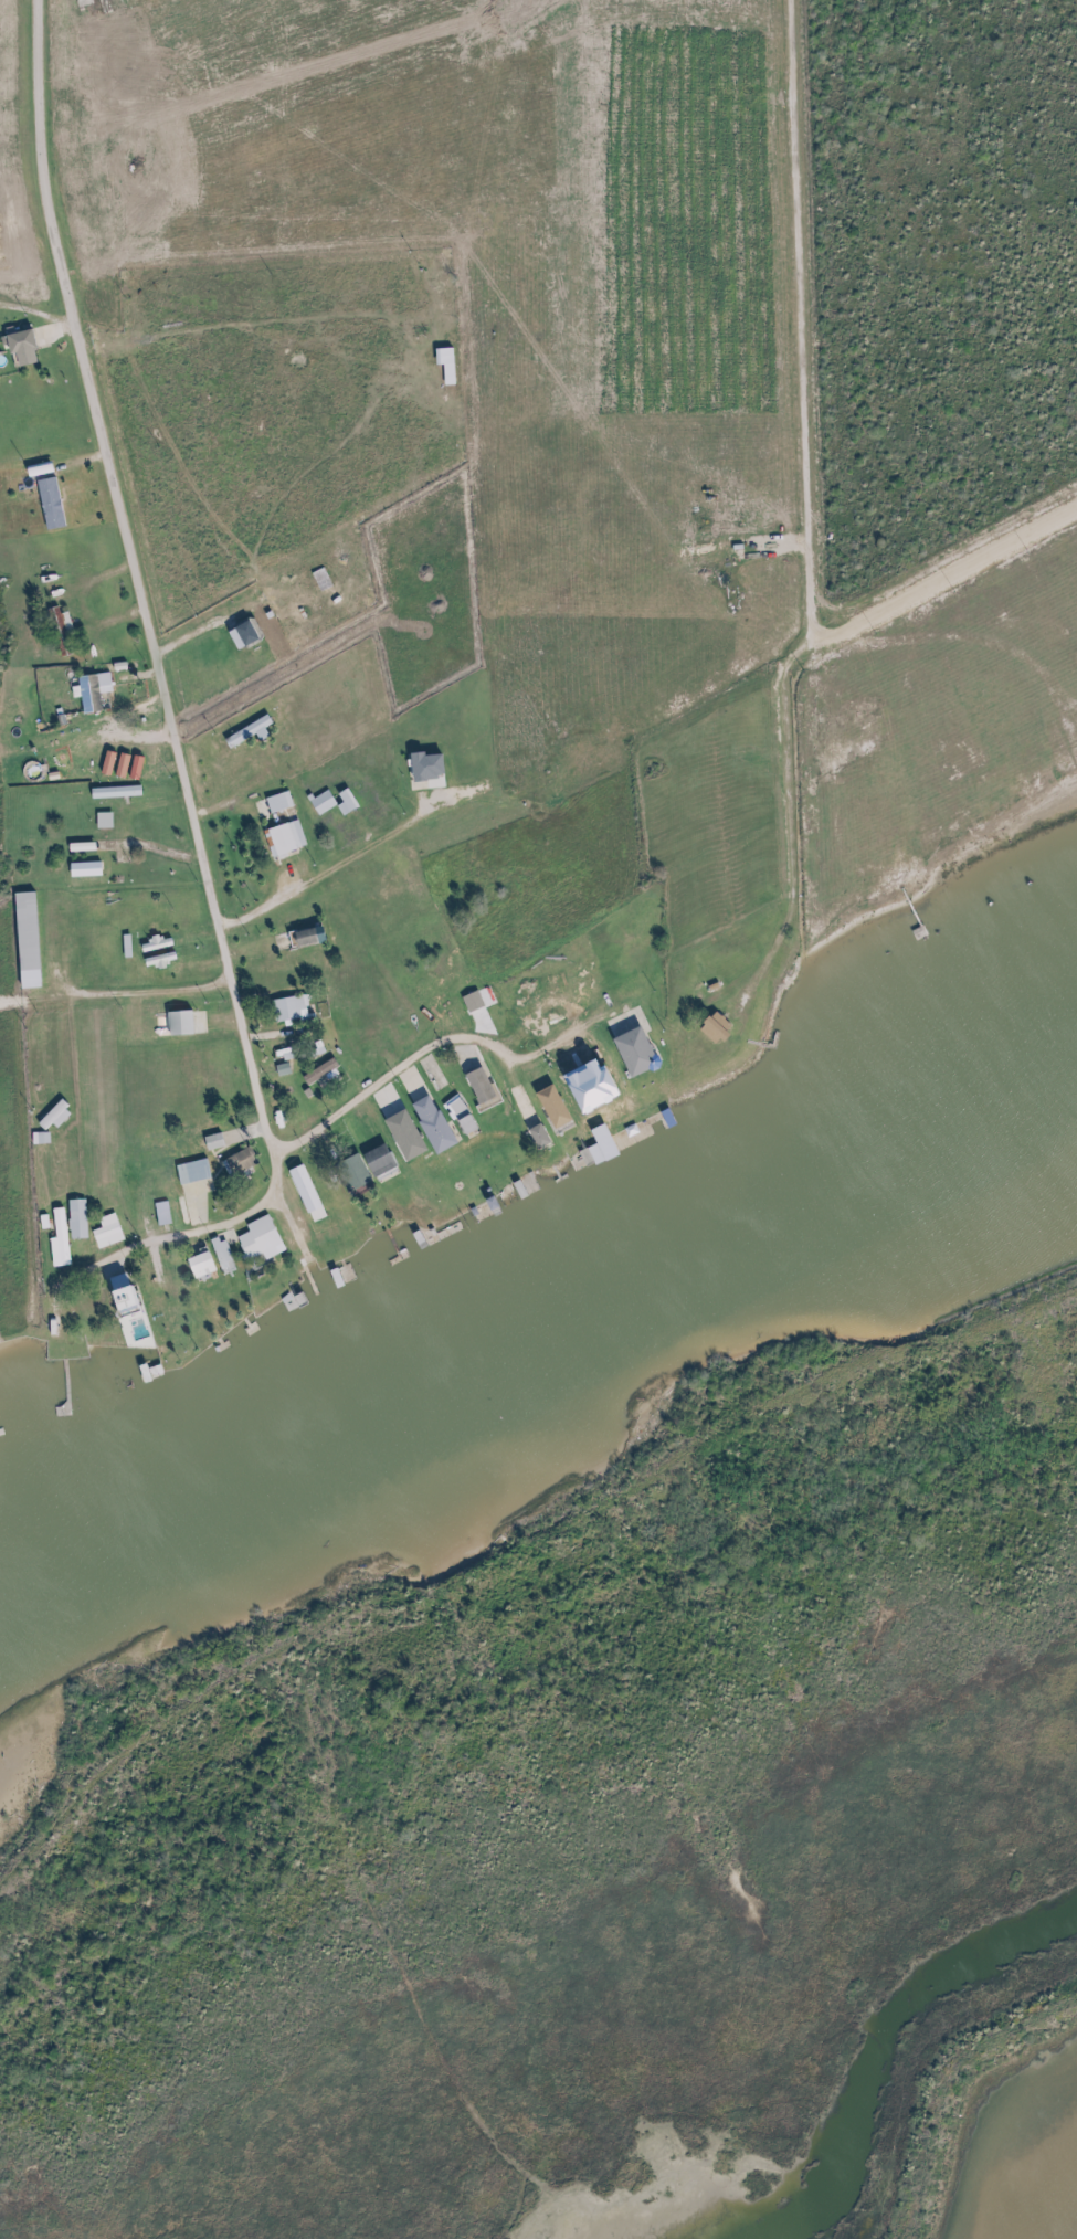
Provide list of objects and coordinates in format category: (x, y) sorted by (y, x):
building: (18, 341)
building: (445, 363)
road: (804, 513)
road: (140, 617)
building: (60, 630)
building: (244, 634)
road: (949, 642)
building: (91, 691)
building: (247, 732)
building: (106, 748)
building: (415, 764)
building: (115, 792)
building: (321, 802)
building: (275, 803)
building: (103, 821)
building: (283, 838)
building: (304, 937)
building: (25, 940)
building: (150, 944)
building: (158, 959)
building: (472, 1002)
building: (288, 1010)
building: (714, 1028)
road: (440, 1046)
building: (643, 1085)
building: (479, 1087)
building: (611, 1100)
building: (457, 1113)
building: (431, 1124)
building: (537, 1137)
building: (401, 1138)
building: (212, 1141)
building: (580, 1161)
building: (240, 1162)
building: (363, 1168)
building: (191, 1172)
building: (299, 1180)
building: (518, 1190)
building: (76, 1219)
building: (106, 1233)
road: (187, 1234)
building: (262, 1236)
building: (59, 1237)
building: (221, 1253)
building: (197, 1266)
building: (146, 1276)
building: (124, 1300)
building: (51, 1319)

